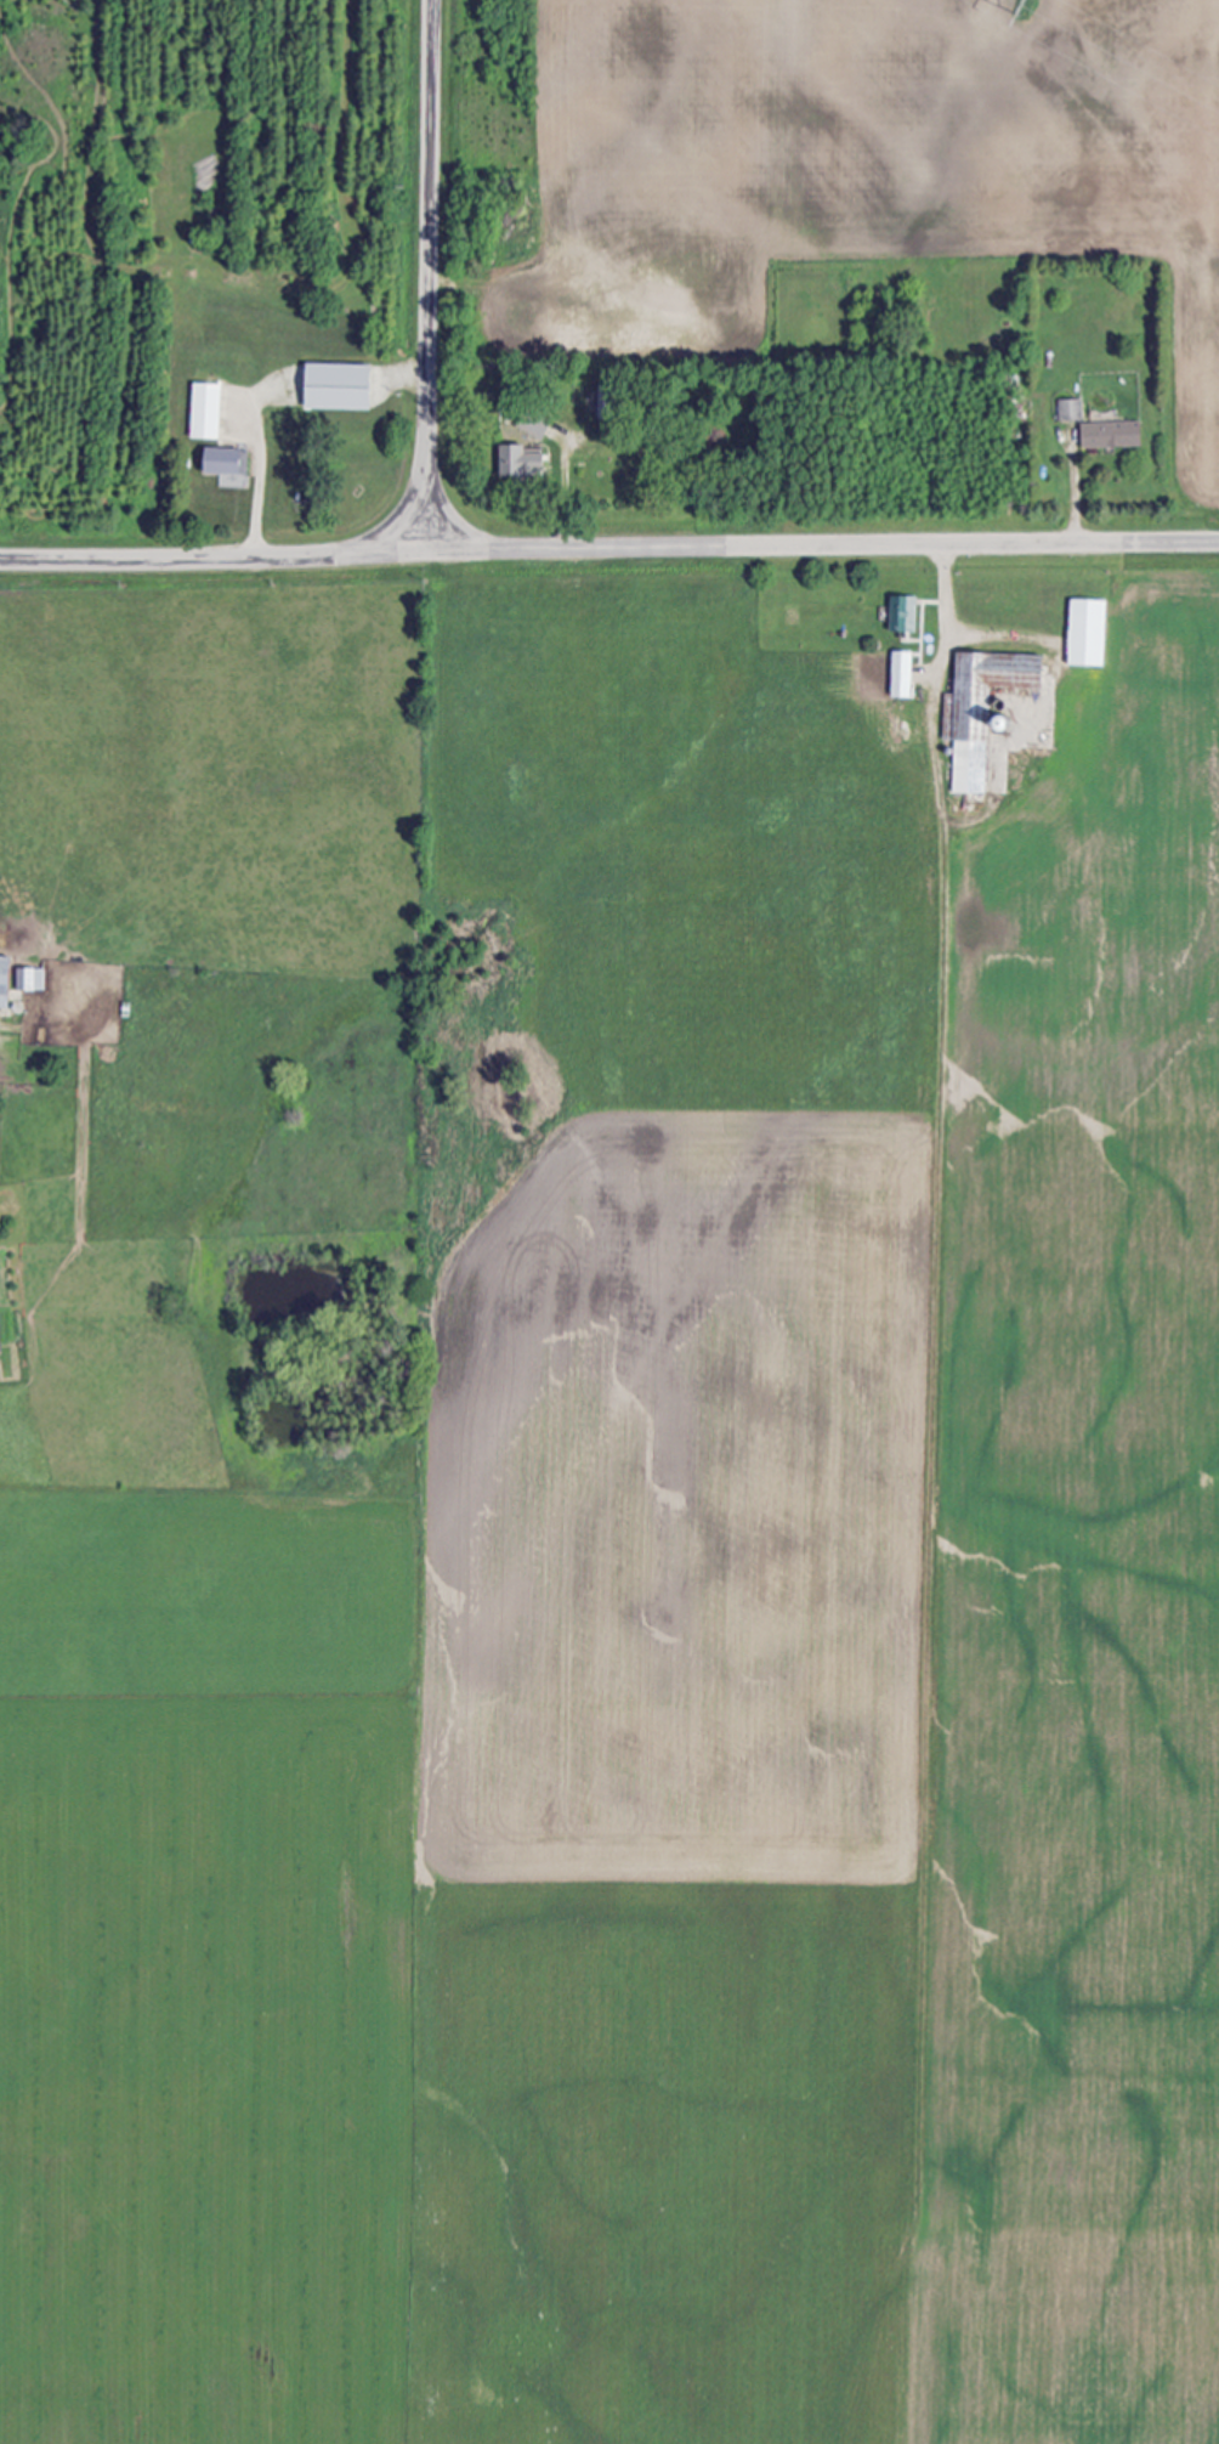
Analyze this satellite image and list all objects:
power tower: (1027, 6)
road: (429, 273)
road: (376, 368)
building: (333, 386)
building: (1068, 409)
building: (203, 411)
building: (531, 423)
building: (1109, 435)
building: (515, 460)
building: (222, 462)
road: (259, 502)
road: (1077, 503)
road: (608, 544)
building: (901, 613)
building: (1084, 633)
building: (898, 674)
road: (936, 681)
building: (980, 711)
building: (28, 979)
building: (2, 980)

